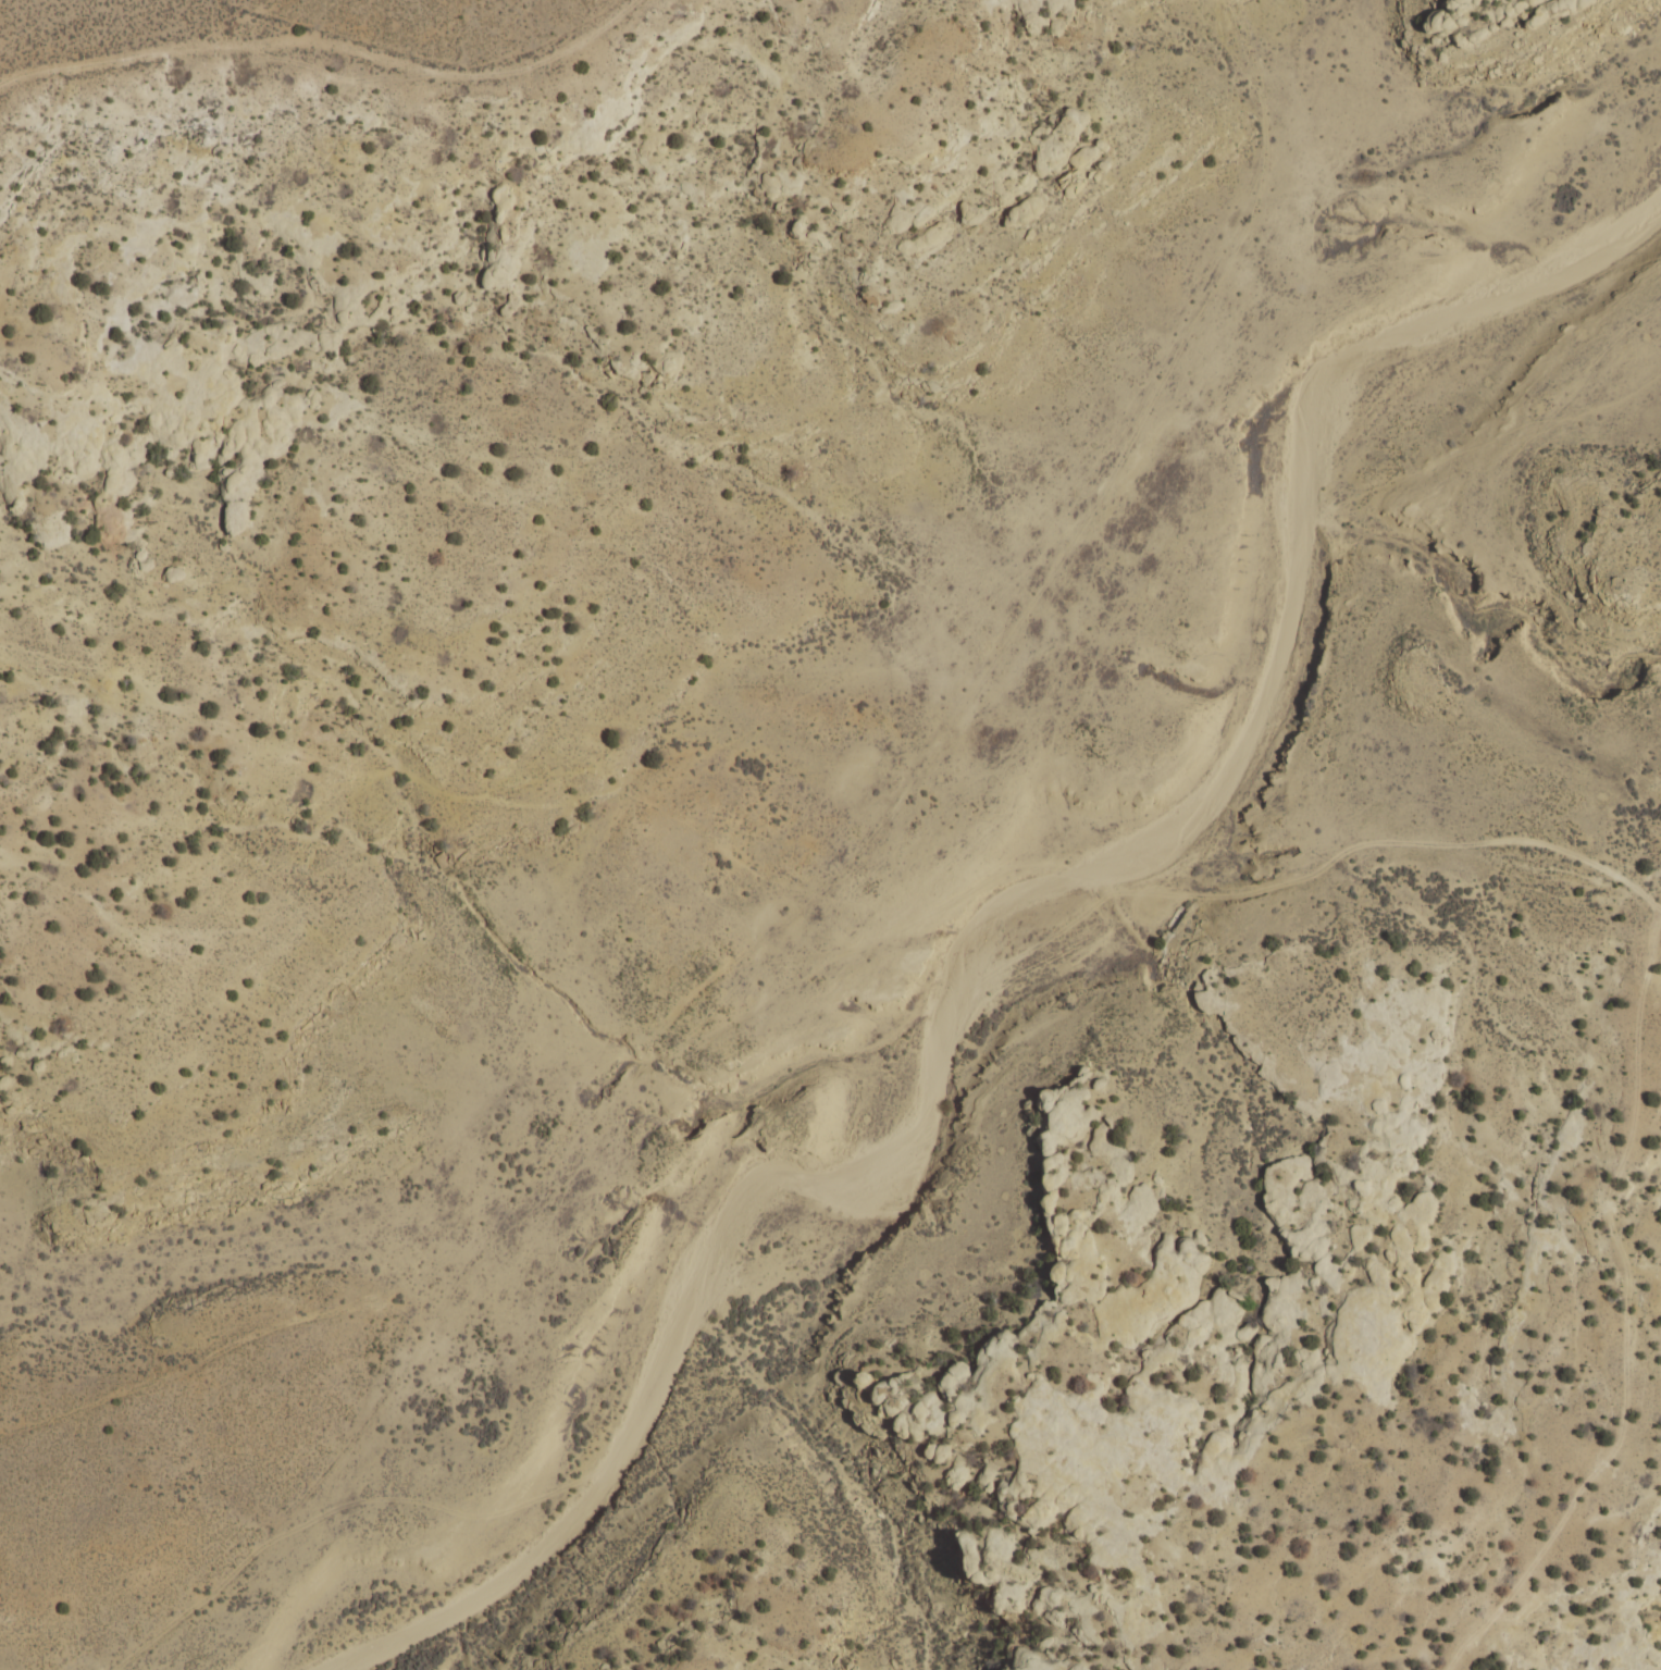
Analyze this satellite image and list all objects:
road: (319, 29)

